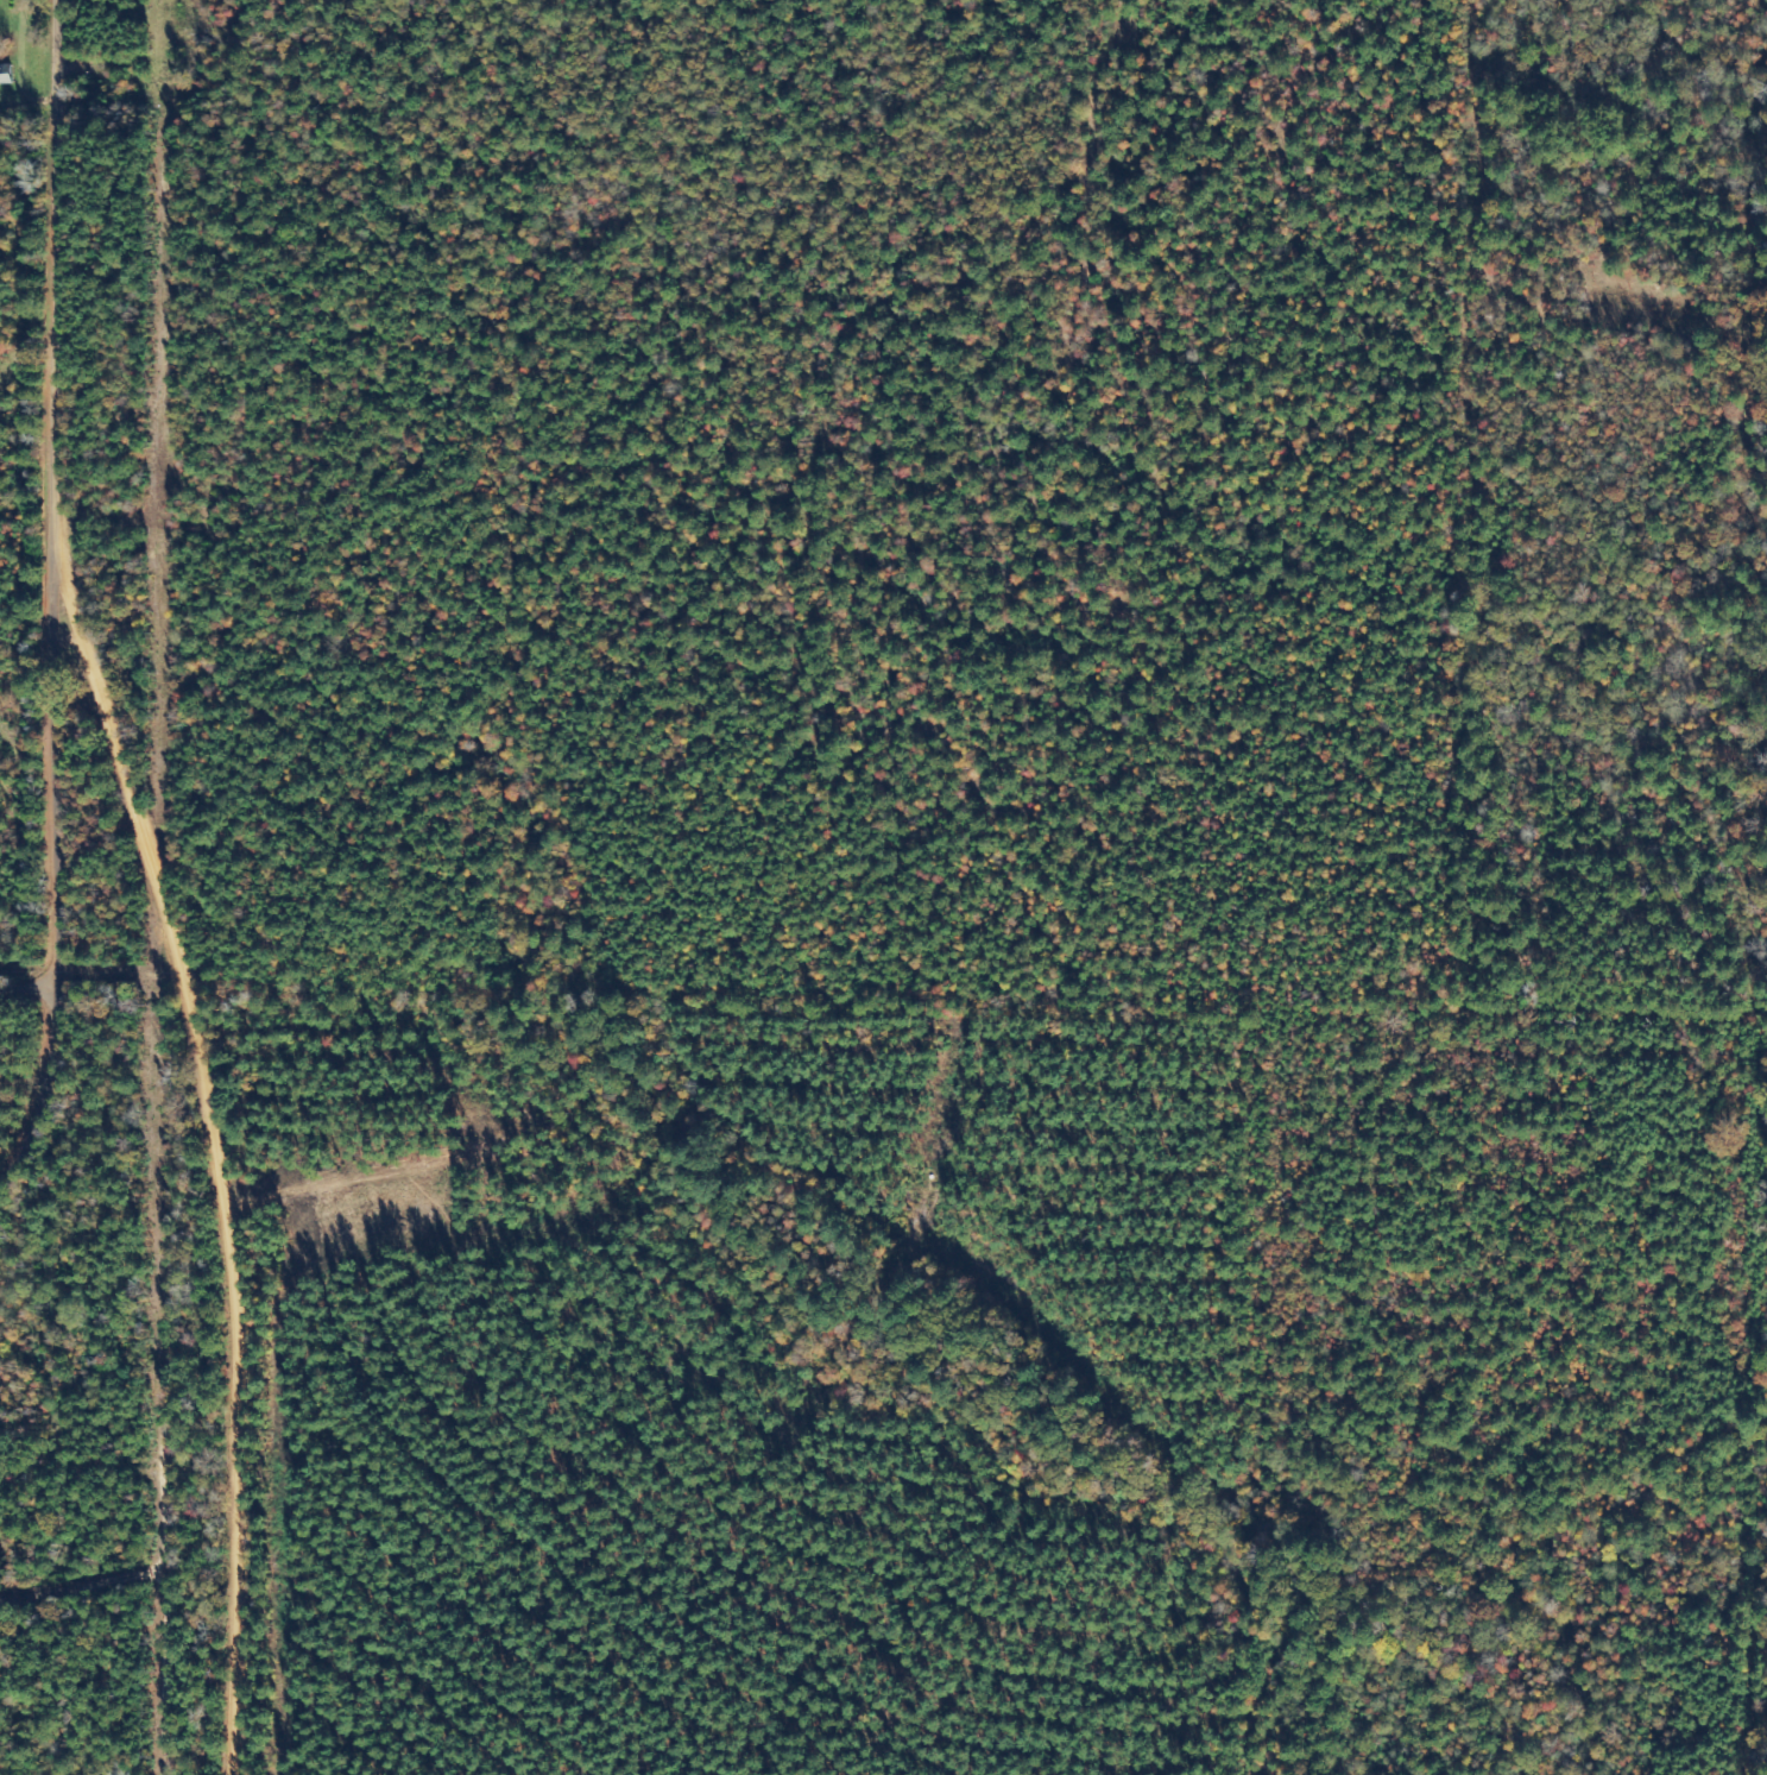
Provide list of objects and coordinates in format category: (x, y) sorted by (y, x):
building: (6, 73)
road: (62, 603)
road: (33, 989)
road: (223, 1146)

